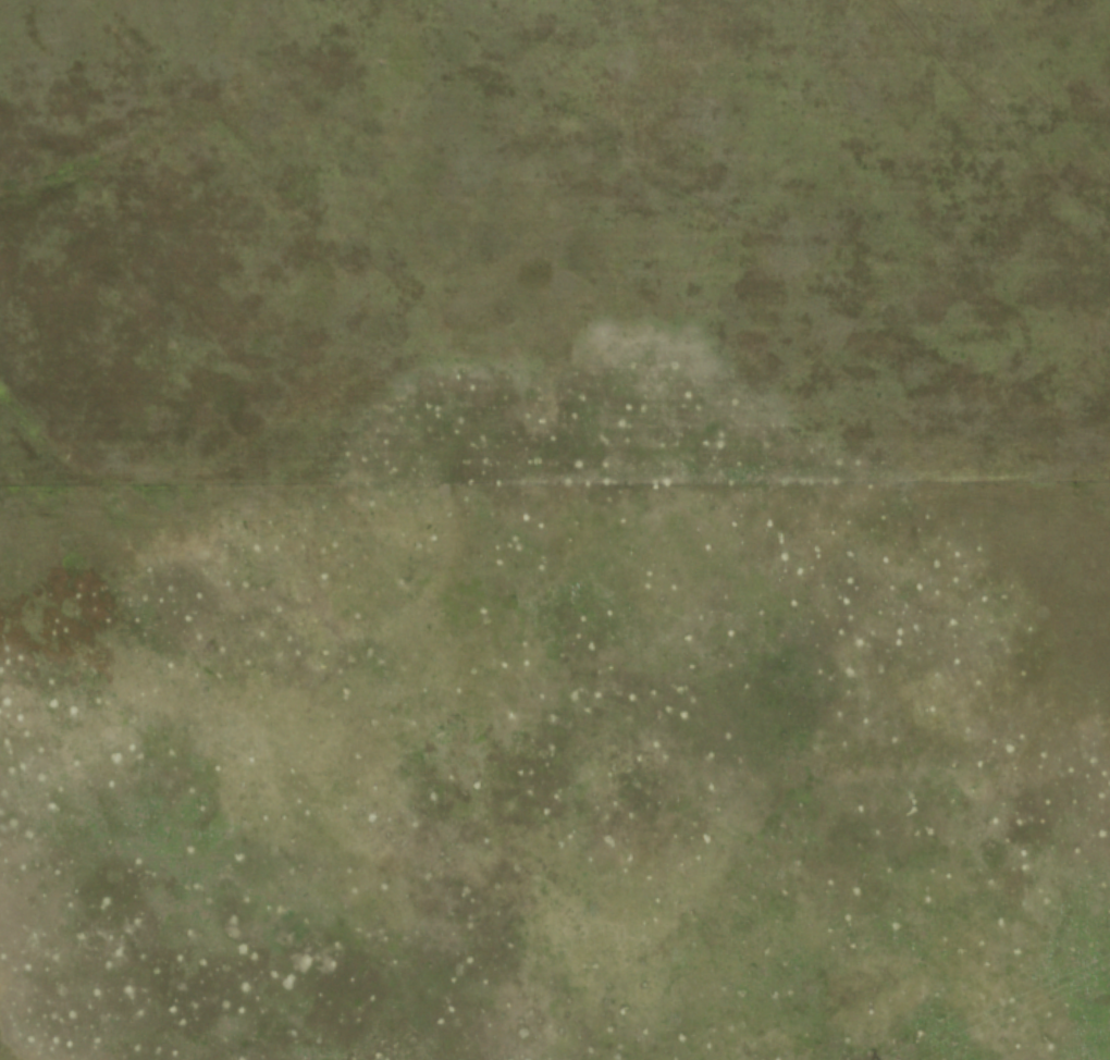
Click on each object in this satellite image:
road: (1068, 697)

